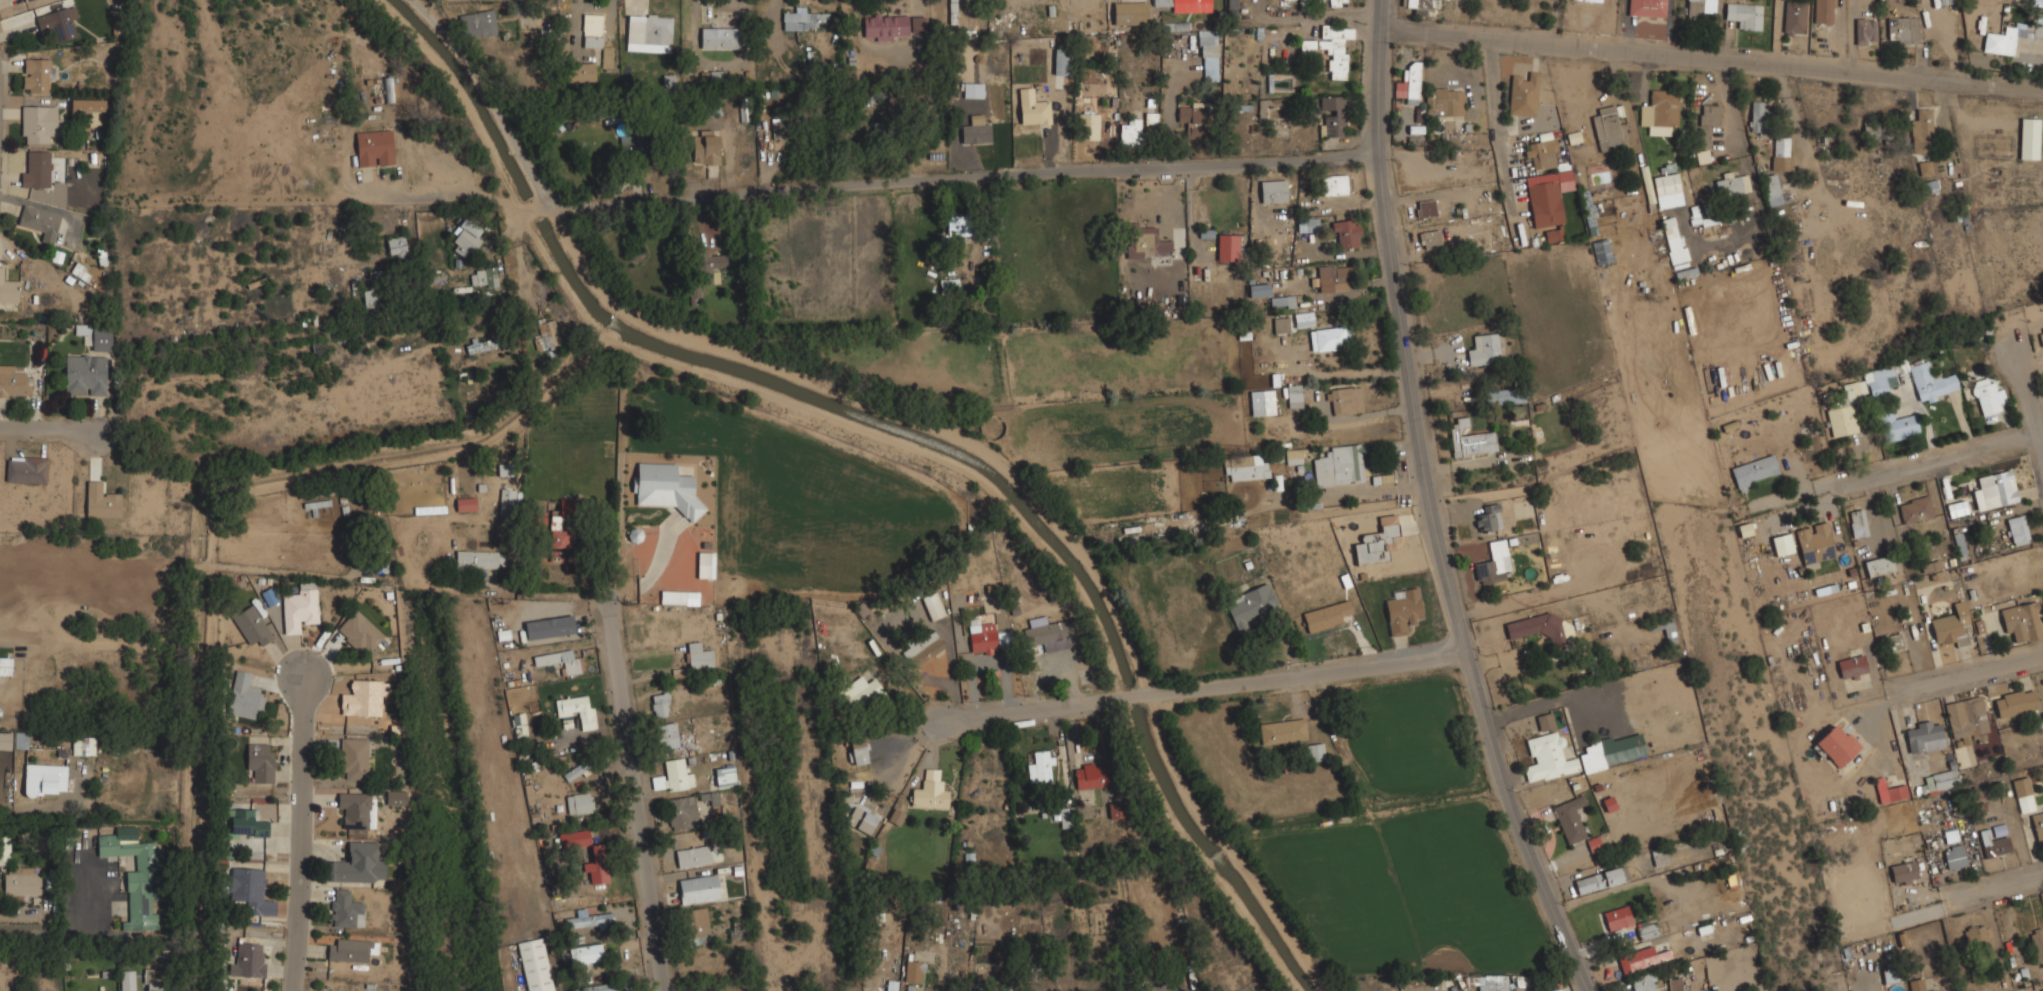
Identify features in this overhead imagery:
building: (25, 0)
building: (28, 0)
building: (1947, 1)
building: (2035, 2)
building: (1337, 3)
building: (1184, 5)
building: (1232, 5)
building: (1419, 5)
building: (1646, 8)
building: (1701, 8)
building: (952, 11)
building: (1823, 11)
building: (1129, 12)
building: (1744, 15)
building: (1794, 17)
building: (800, 19)
building: (58, 23)
building: (477, 24)
building: (917, 24)
building: (889, 26)
building: (592, 29)
building: (1902, 30)
building: (1865, 31)
building: (2038, 31)
building: (648, 32)
building: (720, 37)
building: (2001, 40)
building: (1330, 48)
building: (1208, 55)
building: (606, 59)
road: (1714, 59)
building: (1061, 61)
building: (580, 71)
building: (717, 74)
building: (37, 75)
building: (1279, 83)
building: (1409, 83)
building: (389, 89)
building: (1523, 94)
road: (493, 99)
building: (1443, 102)
building: (88, 104)
building: (1659, 109)
building: (1034, 111)
building: (1332, 116)
building: (1757, 117)
building: (1151, 119)
building: (1192, 119)
building: (40, 123)
road: (1495, 123)
building: (1087, 125)
building: (1704, 125)
building: (779, 130)
building: (1609, 130)
building: (1875, 130)
building: (1922, 130)
building: (976, 132)
building: (1130, 132)
building: (2029, 138)
building: (374, 148)
building: (705, 149)
building: (1780, 153)
building: (1541, 154)
building: (1926, 168)
building: (36, 170)
road: (969, 178)
building: (1732, 184)
building: (1336, 185)
building: (1929, 185)
building: (1667, 186)
building: (1772, 190)
building: (1273, 191)
building: (1544, 203)
building: (1426, 208)
building: (1708, 221)
building: (39, 222)
building: (1307, 224)
building: (957, 225)
building: (1346, 233)
building: (465, 239)
building: (1430, 239)
building: (1673, 239)
building: (1146, 242)
building: (396, 246)
building: (1227, 247)
building: (1601, 250)
building: (706, 264)
building: (80, 271)
building: (483, 277)
building: (1333, 277)
building: (7, 288)
building: (377, 290)
building: (1258, 290)
building: (695, 291)
building: (949, 291)
building: (1281, 301)
building: (1303, 319)
building: (1280, 324)
building: (2042, 333)
building: (546, 334)
building: (1330, 338)
building: (101, 343)
building: (485, 343)
building: (1483, 349)
building: (1899, 365)
building: (85, 375)
building: (1876, 381)
building: (1931, 382)
building: (15, 385)
building: (1851, 389)
building: (1294, 396)
building: (1505, 396)
building: (1986, 396)
road: (2031, 397)
building: (1344, 400)
building: (1261, 402)
road: (829, 418)
building: (1841, 420)
road: (40, 421)
building: (1897, 426)
building: (1469, 439)
building: (1294, 455)
road: (1939, 462)
building: (1339, 466)
building: (1246, 468)
building: (26, 469)
building: (1754, 469)
building: (1277, 483)
building: (663, 488)
building: (101, 501)
building: (507, 503)
building: (466, 505)
road: (1425, 507)
building: (1956, 508)
building: (1915, 510)
building: (1489, 518)
road: (210, 522)
building: (1858, 522)
building: (2017, 530)
building: (1815, 539)
building: (559, 540)
building: (1376, 542)
building: (1782, 544)
building: (1960, 545)
building: (480, 560)
building: (1493, 563)
building: (705, 565)
building: (1879, 566)
building: (1930, 566)
road: (650, 575)
building: (679, 597)
building: (299, 606)
building: (933, 606)
building: (1250, 608)
building: (1403, 610)
building: (1325, 615)
building: (2022, 622)
building: (251, 625)
building: (1537, 627)
building: (1951, 627)
building: (548, 628)
building: (1667, 630)
building: (358, 631)
building: (1048, 634)
building: (986, 635)
road: (9, 636)
building: (1894, 642)
building: (921, 648)
building: (698, 656)
building: (559, 661)
building: (6, 665)
building: (1852, 667)
road: (1969, 679)
road: (1204, 682)
building: (244, 695)
building: (862, 695)
building: (364, 698)
building: (2015, 702)
building: (659, 705)
building: (577, 710)
building: (1966, 717)
building: (1545, 721)
building: (519, 726)
building: (1282, 731)
building: (1922, 734)
building: (666, 736)
building: (5, 740)
building: (20, 740)
building: (82, 745)
building: (1836, 745)
building: (1613, 751)
building: (1315, 752)
building: (858, 753)
building: (353, 758)
building: (1547, 758)
building: (260, 762)
building: (1040, 766)
building: (575, 772)
building: (724, 775)
building: (973, 775)
building: (1090, 775)
building: (673, 776)
building: (44, 779)
building: (1941, 779)
building: (930, 791)
building: (1889, 791)
building: (2023, 794)
road: (631, 796)
building: (396, 797)
building: (578, 803)
road: (6, 810)
building: (354, 810)
building: (681, 812)
building: (896, 815)
building: (1066, 817)
building: (1569, 819)
building: (862, 822)
building: (245, 823)
building: (2037, 827)
road: (288, 835)
building: (1950, 835)
building: (574, 839)
building: (1995, 843)
building: (1594, 844)
building: (5, 849)
building: (1955, 856)
building: (692, 857)
building: (1660, 858)
building: (356, 864)
building: (598, 864)
building: (1903, 872)
building: (136, 879)
building: (1600, 879)
building: (21, 880)
building: (698, 889)
building: (250, 890)
road: (1985, 891)
building: (345, 908)
building: (1617, 918)
building: (585, 920)
building: (695, 922)
road: (33, 928)
building: (1975, 937)
building: (2037, 945)
building: (351, 950)
building: (1642, 951)
building: (587, 954)
building: (248, 960)
building: (534, 965)
building: (914, 970)
building: (1890, 975)
building: (126, 980)
building: (155, 981)
building: (1643, 982)
building: (1490, 983)
building: (1916, 984)
building: (1674, 985)
building: (601, 987)

